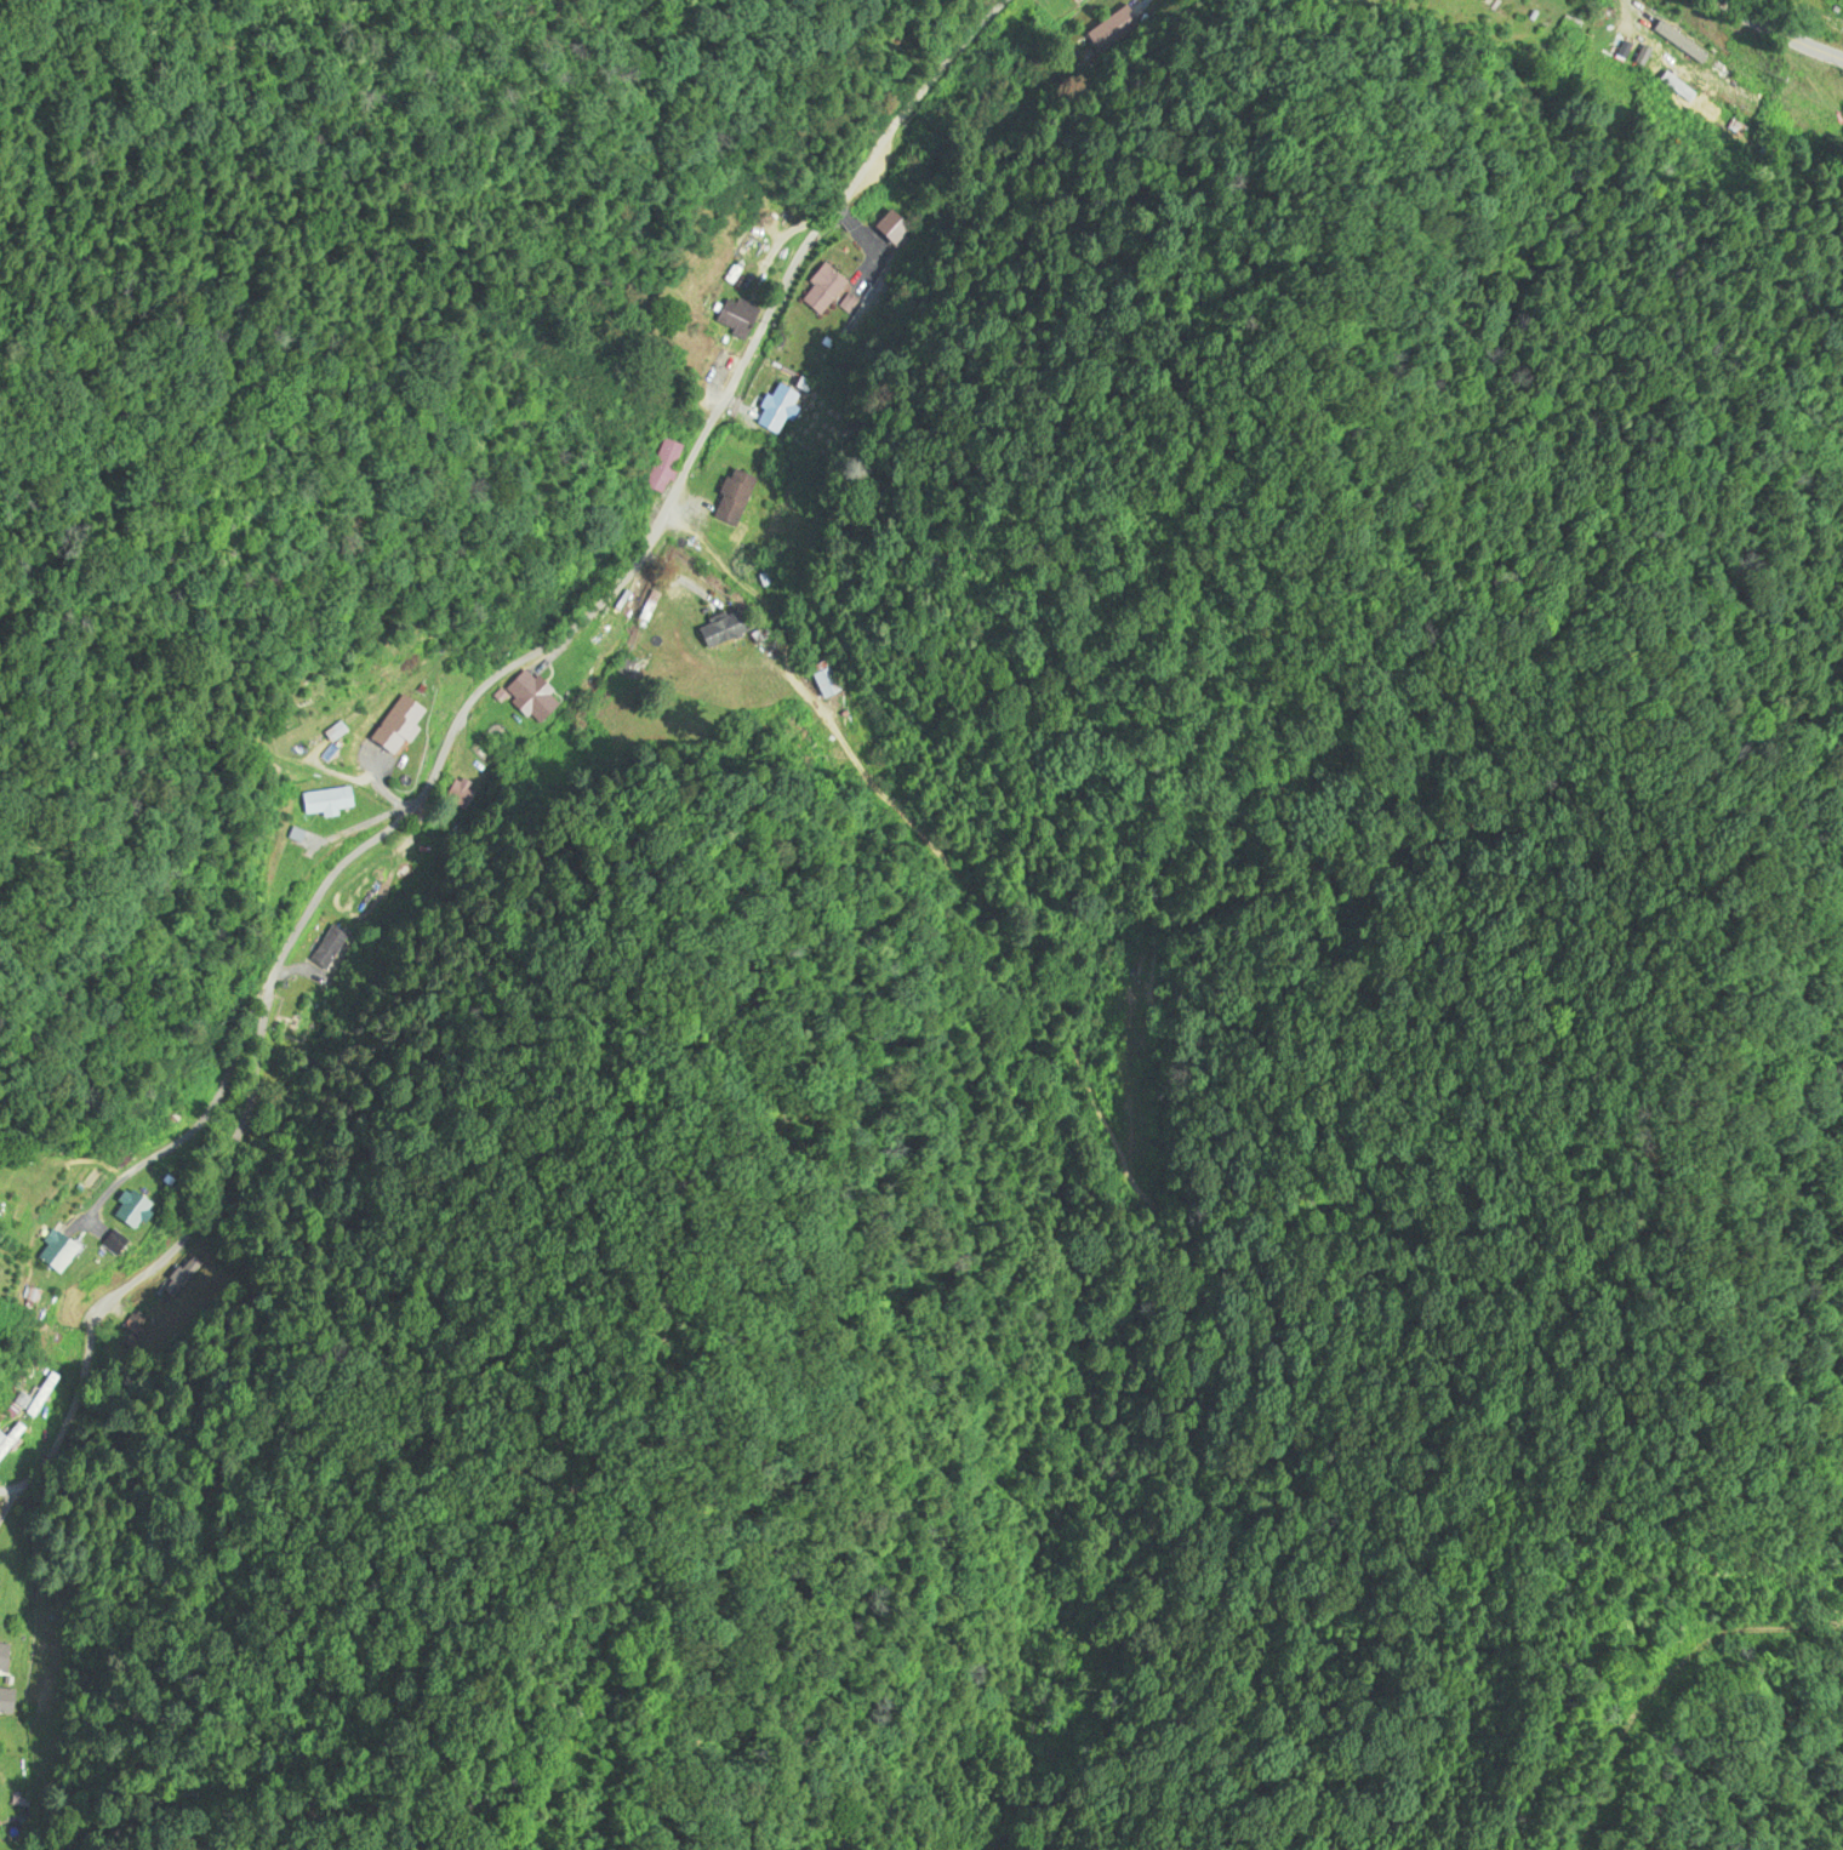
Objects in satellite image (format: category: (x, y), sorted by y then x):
building: (1798, 5)
road: (1778, 30)
building: (824, 290)
building: (740, 316)
building: (774, 413)
building: (667, 464)
building: (736, 497)
building: (726, 629)
road: (457, 660)
building: (826, 679)
building: (399, 719)
building: (332, 800)
building: (136, 1210)
building: (63, 1250)
building: (11, 1439)
building: (6, 1655)
building: (7, 1701)

